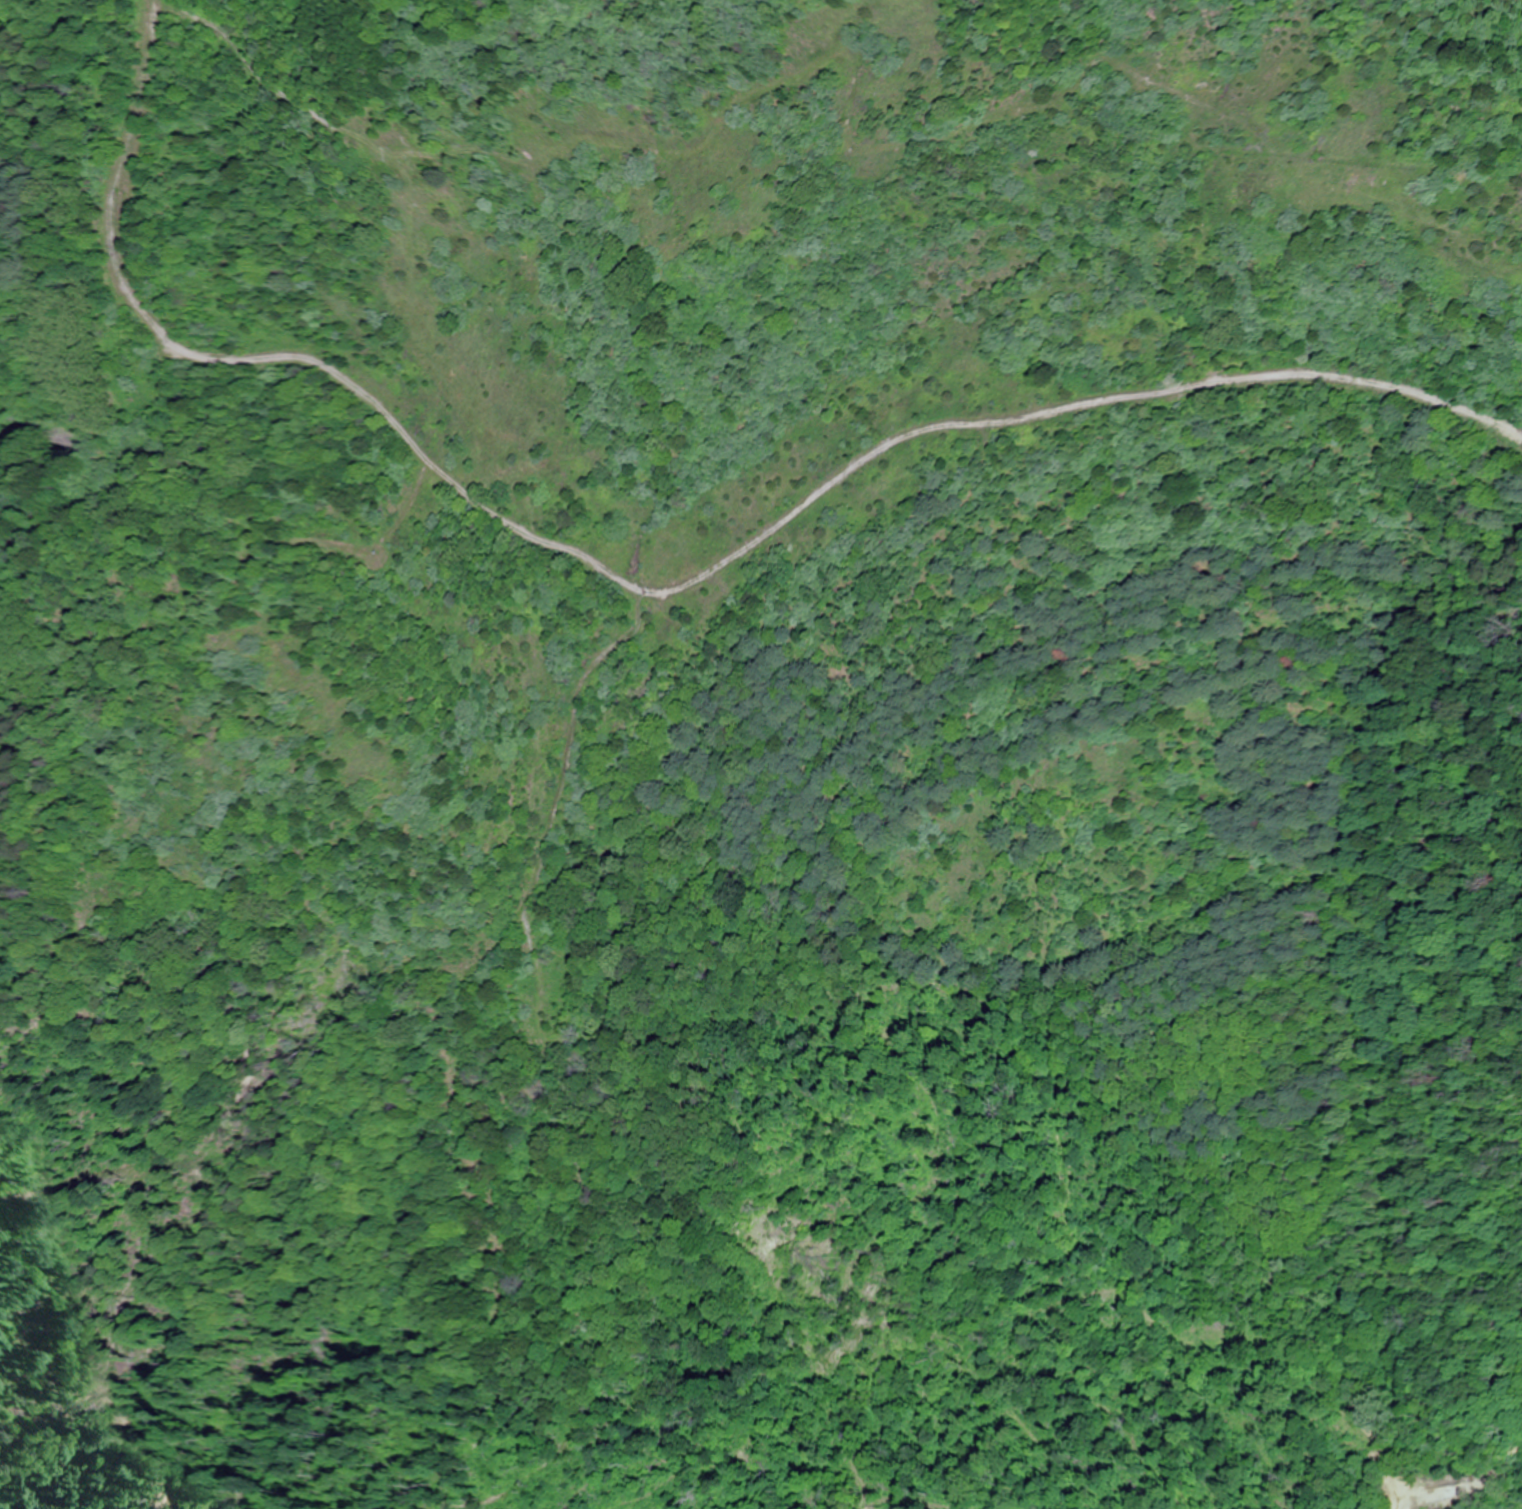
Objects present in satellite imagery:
road: (1406, 1507)

